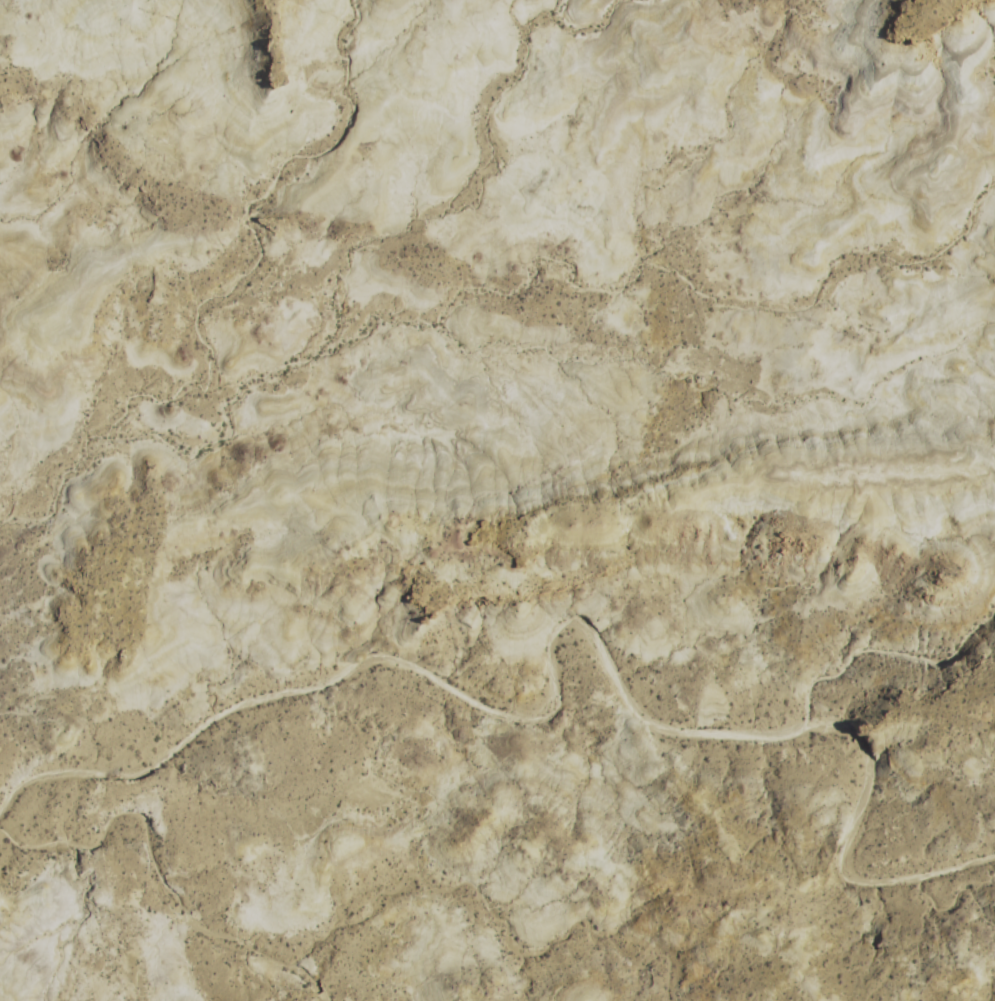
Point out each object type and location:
river: (544, 656)

